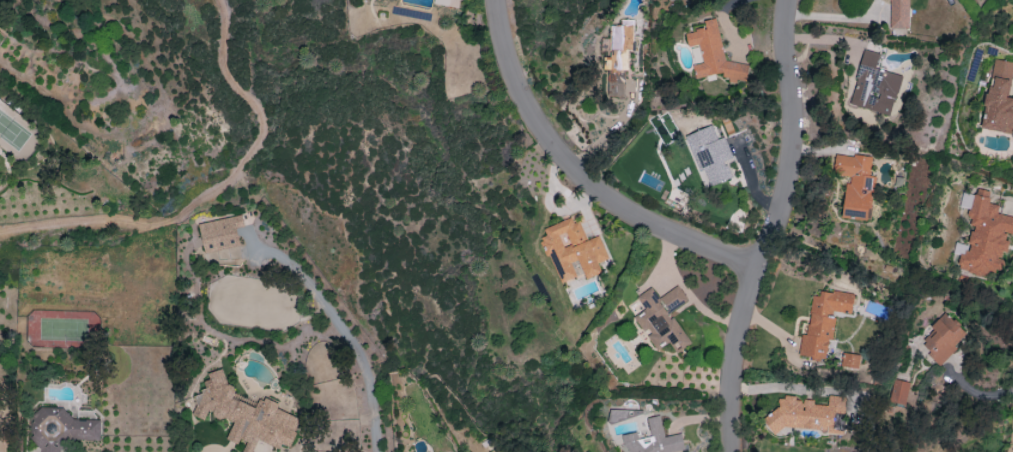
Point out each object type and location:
building: (899, 14)
road: (835, 18)
building: (713, 54)
building: (618, 56)
building: (874, 86)
building: (998, 98)
road: (612, 127)
building: (709, 155)
road: (582, 176)
building: (855, 184)
road: (216, 191)
road: (775, 227)
building: (220, 232)
building: (572, 249)
road: (685, 293)
building: (662, 318)
building: (822, 322)
building: (942, 337)
road: (350, 338)
building: (850, 360)
road: (786, 390)
building: (898, 391)
building: (808, 414)
building: (246, 415)
building: (62, 429)
building: (652, 439)
road: (1009, 441)

